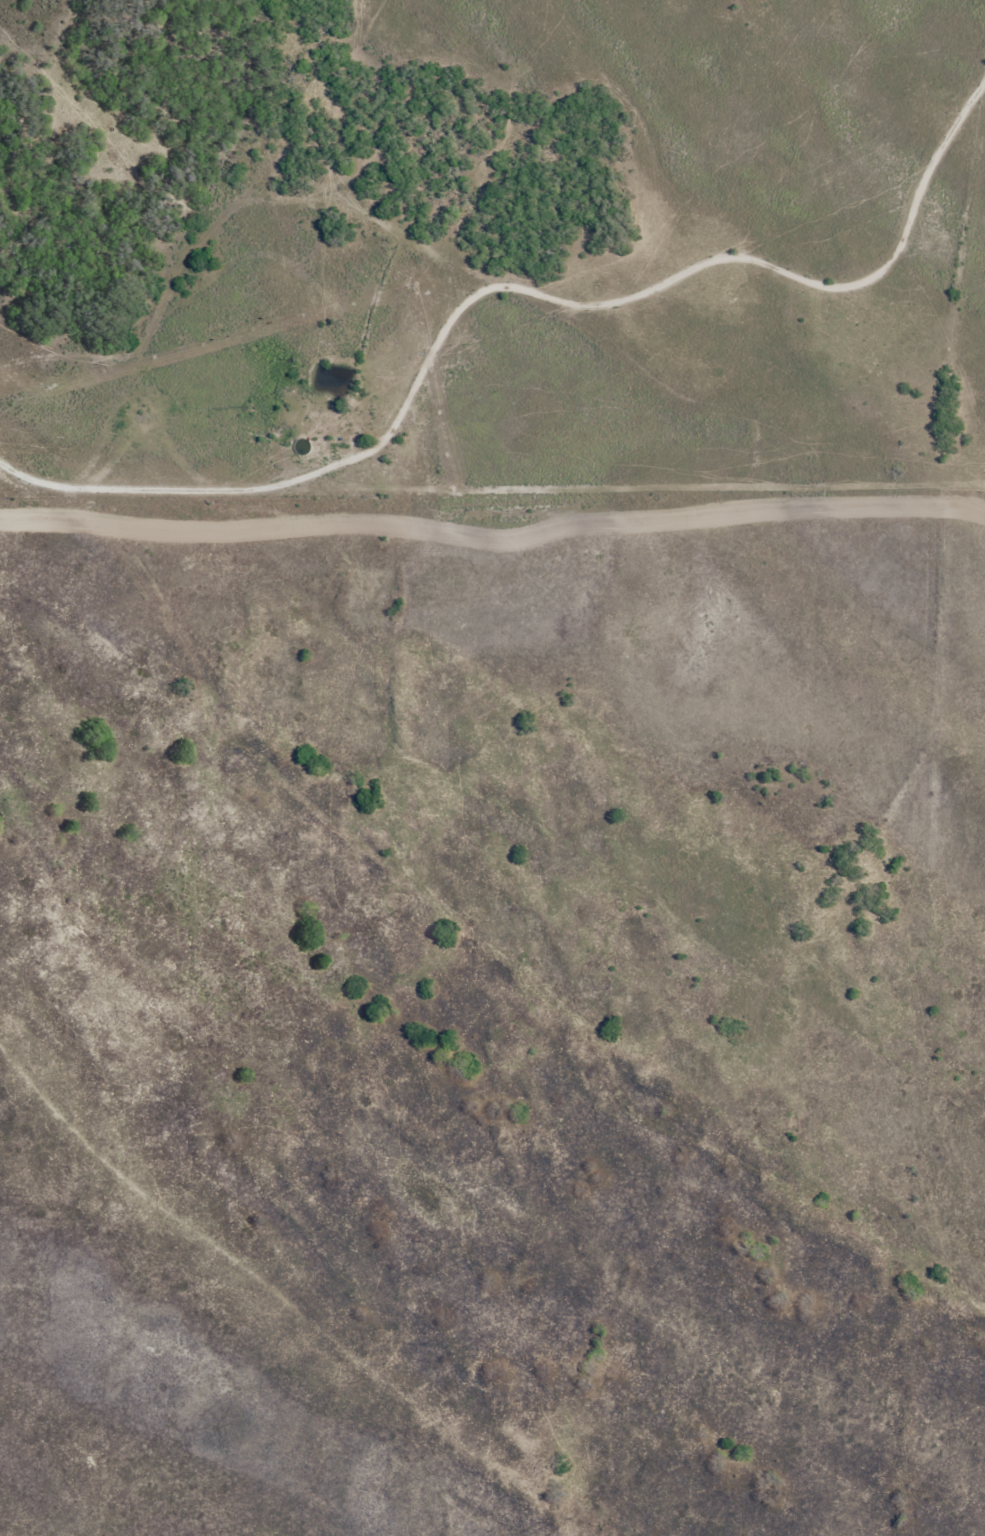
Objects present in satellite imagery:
road: (802, 1007)

